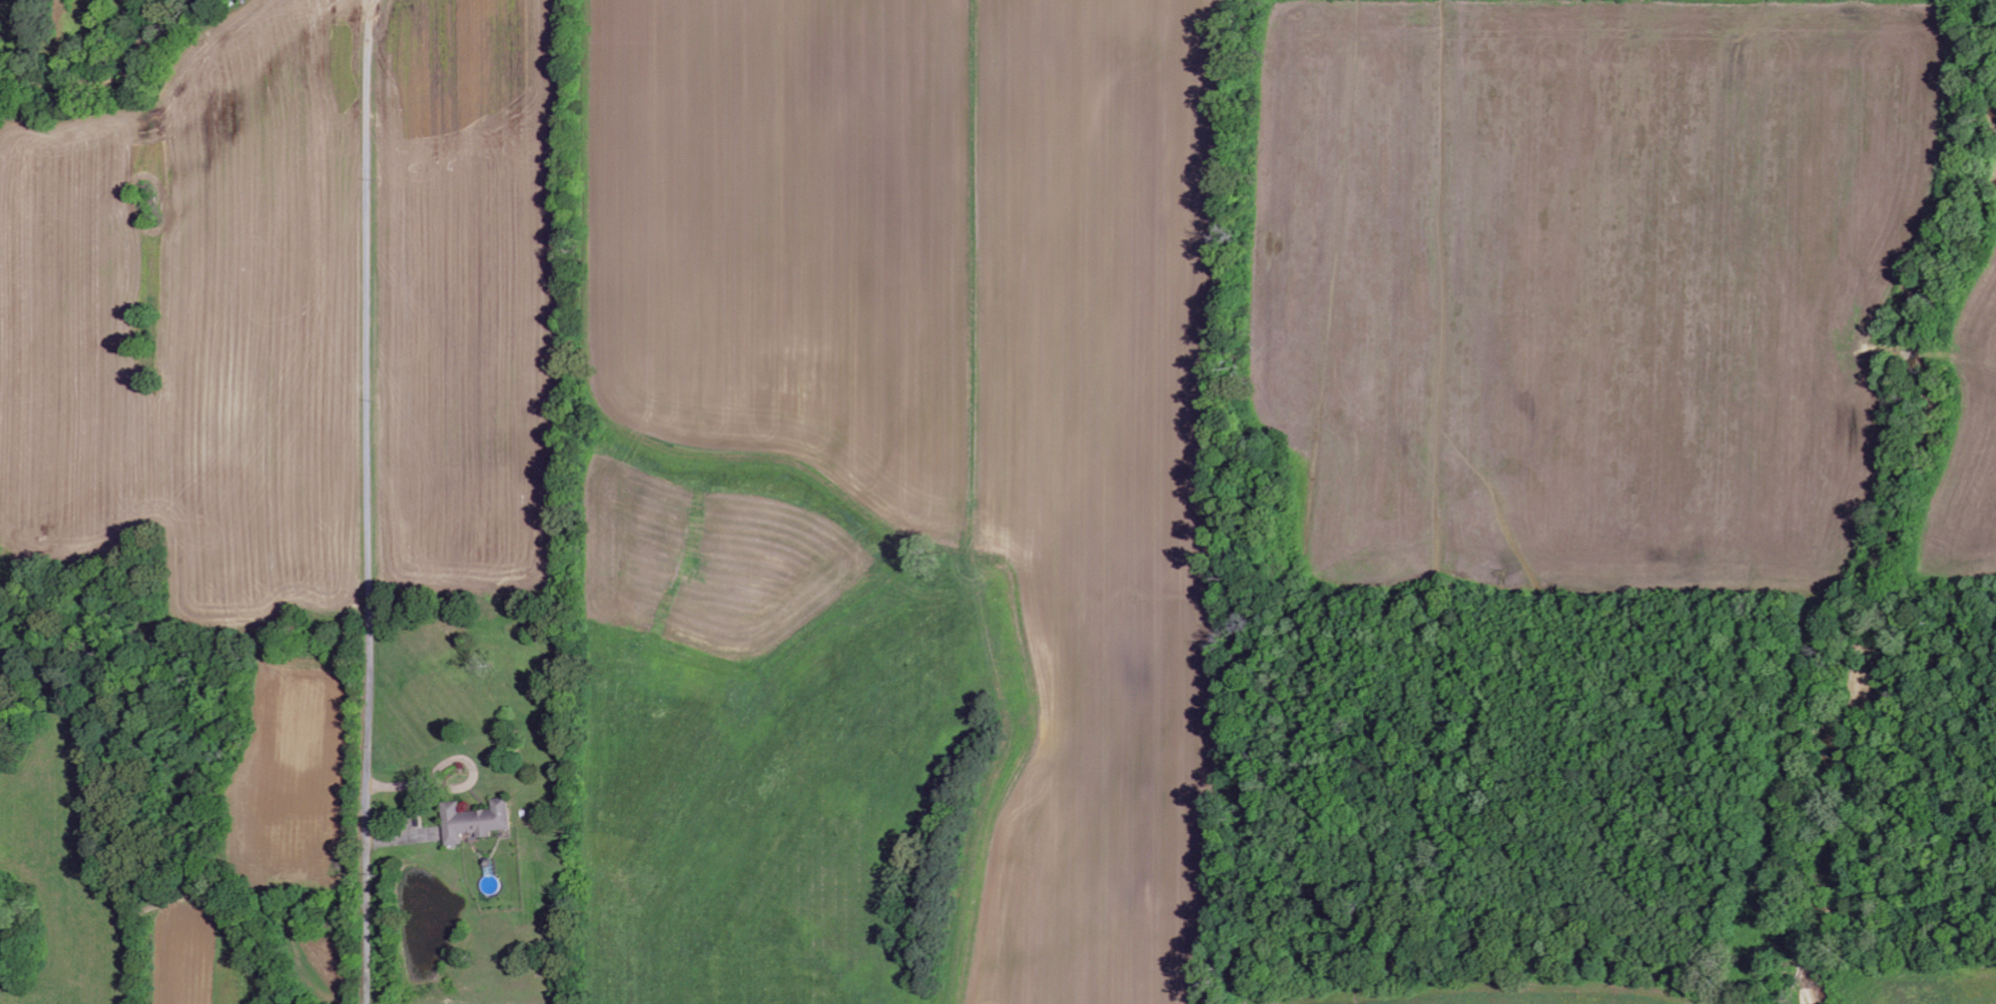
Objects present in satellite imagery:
road: (367, 501)
building: (481, 820)

